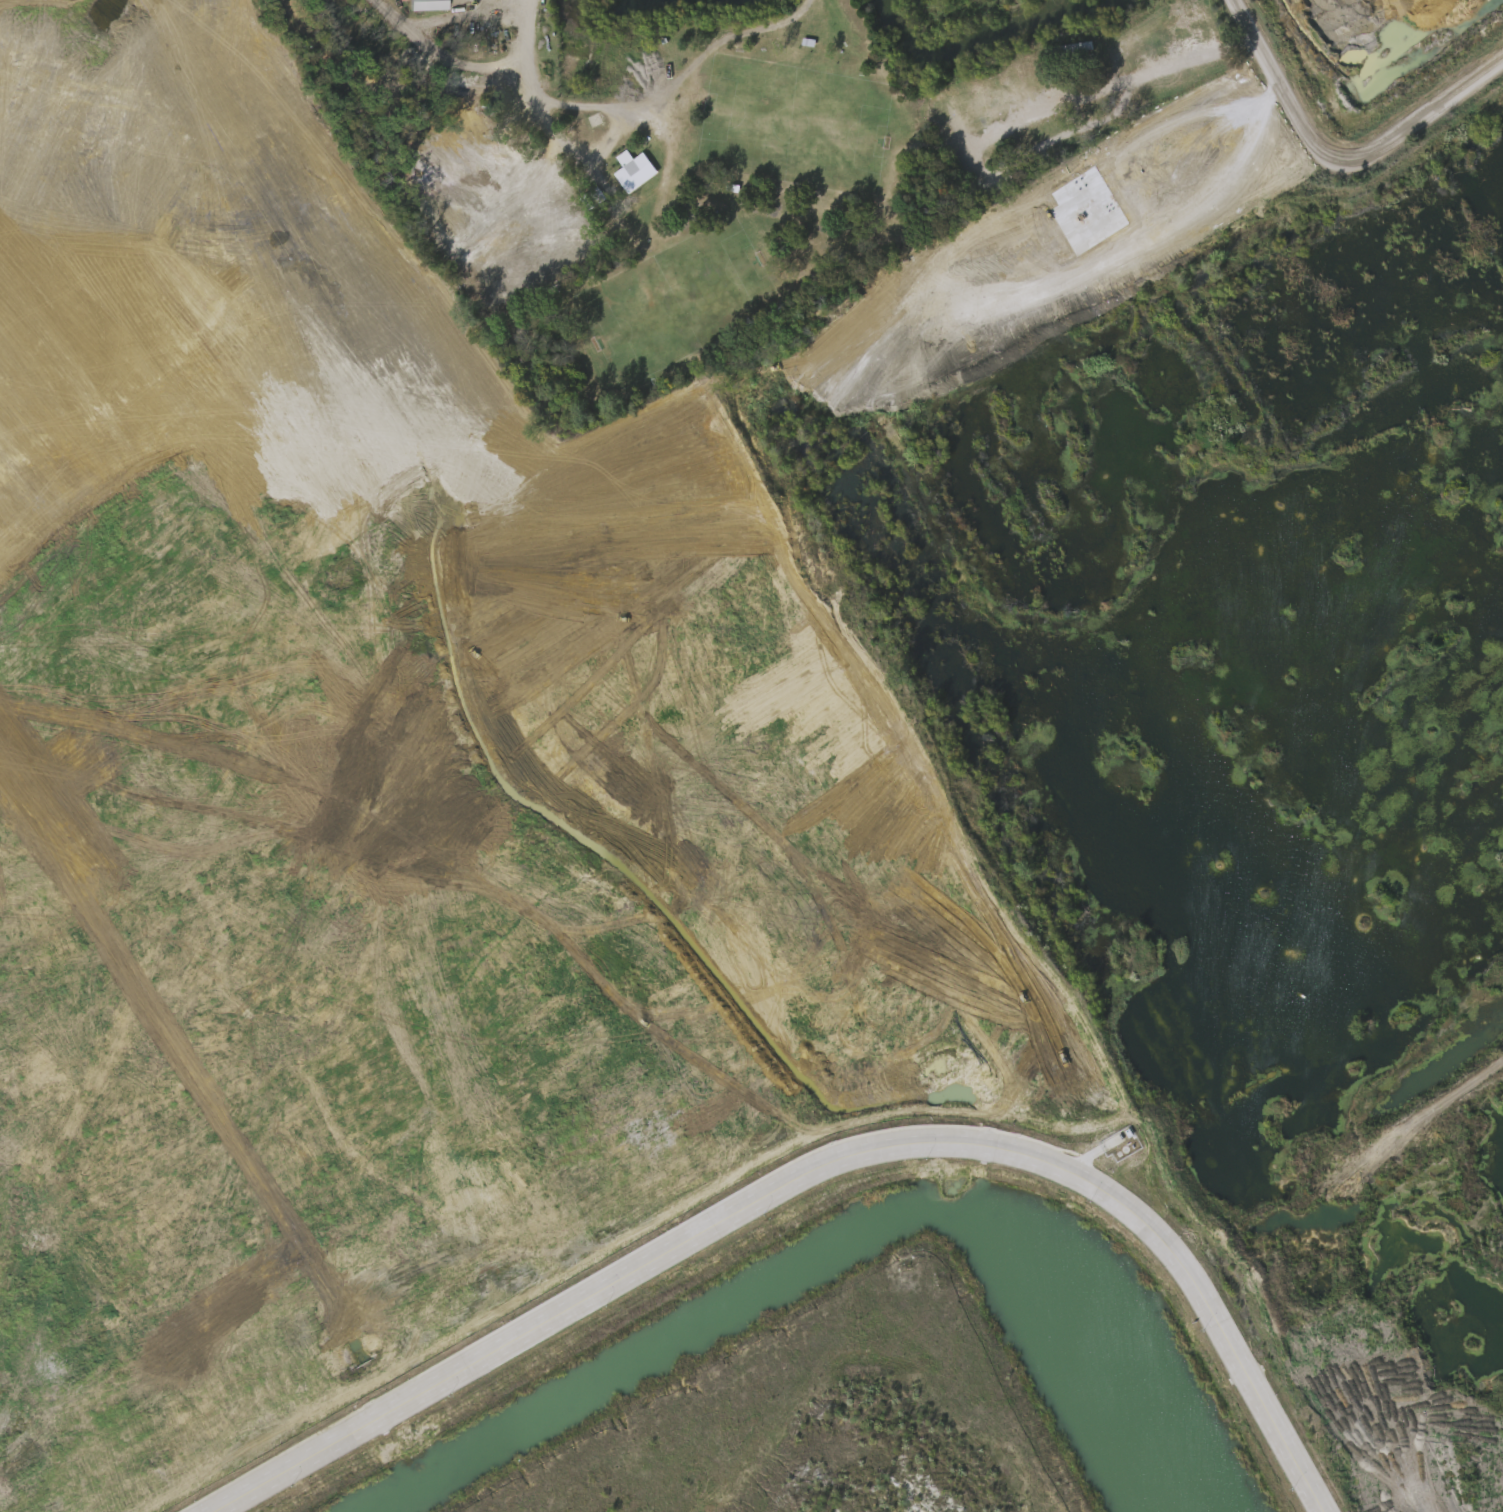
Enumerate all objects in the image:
building: (430, 5)
road: (473, 14)
road: (1169, 64)
road: (1370, 74)
road: (546, 101)
road: (1334, 166)
building: (635, 168)
road: (1282, 476)
road: (813, 1167)

